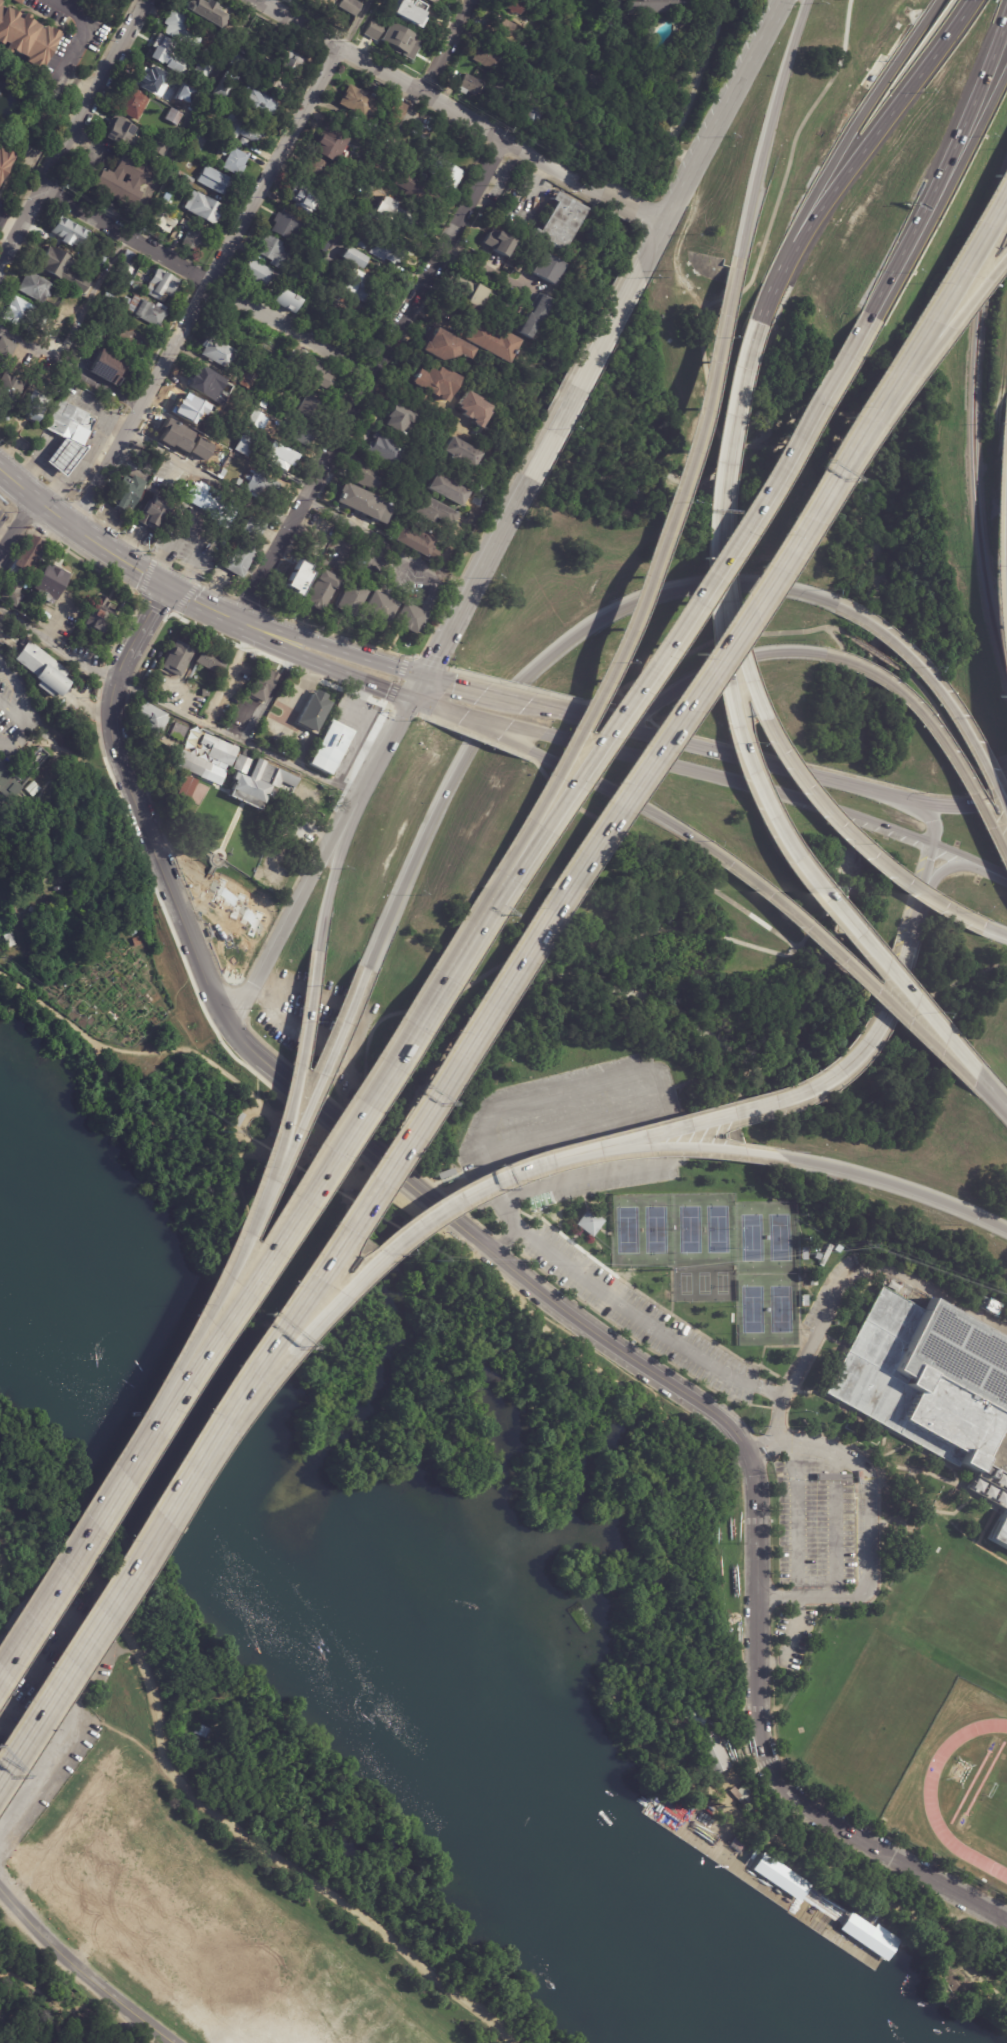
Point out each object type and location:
building: (19, 0)
building: (434, 0)
building: (0, 1)
road: (264, 1)
building: (431, 1)
building: (320, 3)
building: (512, 5)
building: (349, 6)
building: (646, 6)
building: (205, 12)
building: (405, 13)
road: (352, 22)
building: (175, 24)
building: (502, 26)
road: (79, 29)
building: (372, 29)
building: (26, 36)
building: (398, 40)
building: (193, 42)
road: (446, 45)
building: (524, 51)
building: (291, 53)
building: (171, 54)
building: (486, 59)
building: (202, 66)
building: (262, 68)
building: (146, 77)
building: (468, 86)
road: (697, 88)
building: (222, 89)
building: (374, 89)
road: (431, 95)
building: (185, 96)
building: (132, 102)
building: (355, 103)
building: (257, 104)
road: (723, 113)
building: (392, 115)
building: (172, 117)
building: (532, 117)
road: (962, 124)
road: (856, 125)
building: (121, 129)
building: (242, 129)
road: (879, 129)
road: (768, 130)
road: (71, 132)
building: (159, 145)
building: (329, 148)
building: (577, 148)
road: (966, 154)
building: (4, 158)
building: (233, 162)
building: (441, 174)
building: (320, 175)
building: (86, 177)
road: (156, 178)
building: (183, 178)
building: (213, 181)
building: (121, 184)
building: (413, 189)
building: (165, 198)
building: (298, 199)
road: (624, 203)
building: (201, 208)
road: (358, 210)
building: (394, 216)
road: (621, 216)
building: (159, 219)
building: (559, 221)
road: (654, 221)
building: (287, 226)
building: (65, 232)
road: (767, 236)
building: (191, 239)
building: (356, 240)
building: (495, 241)
building: (321, 247)
road: (651, 248)
building: (386, 249)
building: (273, 252)
building: (91, 257)
building: (351, 258)
building: (546, 268)
building: (59, 270)
building: (122, 270)
road: (487, 270)
building: (256, 273)
road: (893, 274)
road: (956, 275)
building: (293, 276)
road: (206, 280)
building: (160, 285)
road: (209, 286)
building: (356, 286)
building: (32, 288)
building: (468, 291)
road: (772, 291)
building: (498, 298)
building: (107, 301)
building: (283, 302)
road: (957, 308)
building: (141, 310)
building: (20, 312)
building: (534, 317)
road: (608, 329)
road: (589, 332)
building: (93, 334)
building: (489, 339)
building: (130, 340)
building: (107, 341)
building: (442, 347)
building: (4, 349)
building: (216, 353)
road: (72, 366)
building: (105, 368)
building: (280, 368)
building: (320, 377)
road: (370, 378)
building: (248, 381)
building: (436, 382)
building: (8, 392)
road: (421, 395)
building: (185, 405)
building: (32, 407)
building: (310, 407)
building: (474, 408)
building: (255, 420)
building: (396, 420)
building: (70, 421)
road: (727, 431)
road: (552, 433)
building: (297, 435)
building: (225, 440)
building: (182, 441)
road: (769, 441)
railway: (974, 449)
road: (161, 450)
building: (386, 450)
building: (460, 450)
building: (63, 455)
building: (280, 459)
road: (520, 463)
building: (366, 475)
building: (260, 487)
building: (447, 488)
road: (1005, 492)
building: (125, 494)
building: (198, 495)
building: (363, 503)
building: (433, 509)
building: (151, 514)
road: (507, 519)
road: (18, 523)
road: (364, 528)
building: (248, 529)
road: (81, 530)
road: (867, 539)
building: (419, 543)
building: (32, 558)
building: (239, 559)
road: (146, 575)
building: (294, 579)
road: (459, 581)
building: (53, 582)
road: (643, 583)
traffic signals: (169, 585)
road: (1003, 585)
road: (216, 588)
building: (321, 589)
road: (676, 590)
building: (18, 594)
road: (187, 595)
building: (351, 598)
road: (153, 602)
road: (201, 602)
road: (248, 602)
road: (690, 604)
building: (379, 607)
building: (102, 615)
building: (409, 615)
road: (455, 618)
road: (142, 633)
road: (335, 635)
road: (719, 642)
road: (329, 645)
road: (58, 646)
road: (875, 653)
road: (902, 653)
building: (252, 655)
road: (763, 655)
building: (175, 658)
building: (209, 659)
road: (278, 659)
road: (429, 662)
road: (319, 665)
building: (44, 672)
road: (229, 673)
traffic signals: (424, 677)
road: (437, 680)
road: (880, 680)
road: (398, 681)
building: (261, 683)
road: (512, 684)
parking lot: (83, 687)
road: (303, 687)
road: (850, 687)
road: (468, 688)
road: (417, 689)
building: (204, 692)
road: (491, 693)
road: (626, 695)
road: (17, 696)
road: (266, 698)
road: (598, 698)
road: (664, 699)
road: (755, 700)
traffic signals: (411, 701)
road: (529, 703)
road: (612, 703)
road: (421, 704)
road: (89, 706)
building: (311, 710)
road: (403, 710)
road: (640, 710)
road: (98, 712)
road: (444, 712)
parking lot: (14, 715)
building: (148, 717)
road: (593, 719)
road: (502, 725)
road: (28, 730)
building: (176, 731)
road: (496, 735)
road: (474, 737)
road: (957, 740)
road: (238, 741)
building: (328, 746)
road: (384, 749)
road: (614, 750)
building: (223, 752)
road: (71, 753)
road: (533, 759)
building: (199, 767)
road: (826, 769)
road: (982, 772)
building: (174, 774)
road: (815, 774)
building: (27, 779)
building: (259, 779)
building: (184, 787)
road: (609, 787)
road: (969, 796)
road: (152, 798)
road: (807, 801)
road: (140, 808)
road: (438, 811)
road: (931, 822)
road: (778, 841)
road: (312, 851)
road: (142, 852)
road: (958, 856)
road: (211, 857)
road: (585, 857)
road: (214, 865)
road: (672, 865)
road: (926, 867)
road: (950, 868)
road: (996, 872)
road: (335, 875)
road: (206, 882)
park: (213, 884)
road: (906, 888)
road: (227, 894)
road: (200, 898)
road: (829, 906)
road: (294, 911)
road: (916, 920)
building: (132, 931)
road: (993, 933)
building: (136, 941)
road: (828, 952)
road: (516, 959)
road: (831, 964)
park: (113, 969)
road: (209, 979)
road: (919, 999)
road: (236, 1002)
parking lot: (324, 1027)
road: (163, 1052)
road: (658, 1082)
road: (293, 1086)
road: (317, 1087)
road: (262, 1091)
road: (302, 1093)
road: (312, 1094)
road: (991, 1094)
road: (792, 1100)
road: (303, 1113)
building: (239, 1119)
road: (180, 1138)
road: (338, 1143)
road: (699, 1149)
road: (400, 1155)
building: (445, 1172)
road: (494, 1178)
road: (905, 1191)
road: (451, 1199)
road: (342, 1219)
parking lot: (517, 1222)
building: (589, 1223)
park: (715, 1227)
road: (422, 1228)
road: (503, 1228)
park: (653, 1228)
park: (687, 1228)
park: (624, 1229)
park: (749, 1236)
park: (777, 1236)
road: (506, 1239)
road: (538, 1242)
building: (838, 1249)
building: (804, 1254)
building: (826, 1256)
building: (818, 1257)
road: (515, 1269)
road: (318, 1277)
park: (719, 1281)
building: (813, 1281)
park: (683, 1282)
park: (701, 1282)
building: (805, 1302)
road: (832, 1304)
road: (214, 1307)
park: (749, 1308)
park: (778, 1308)
road: (202, 1346)
road: (764, 1356)
road: (818, 1357)
road: (779, 1383)
building: (933, 1388)
road: (772, 1406)
road: (668, 1413)
road: (240, 1414)
road: (775, 1429)
road: (711, 1432)
road: (897, 1434)
road: (568, 1440)
road: (881, 1440)
road: (917, 1445)
park: (561, 1498)
road: (925, 1509)
road: (833, 1524)
parking lot: (817, 1534)
road: (87, 1537)
road: (868, 1538)
road: (797, 1565)
road: (659, 1590)
road: (35, 1596)
park: (968, 1609)
road: (102, 1627)
river: (418, 1692)
road: (757, 1694)
parking lot: (49, 1701)
building: (202, 1729)
road: (129, 1737)
building: (196, 1744)
building: (713, 1753)
building: (958, 1772)
building: (747, 1794)
track: (927, 1801)
park: (991, 1813)
park: (188, 1815)
road: (245, 1832)
pier: (731, 1852)
parking lot: (208, 1927)
road: (79, 1956)
road: (80, 1972)
road: (946, 1995)
road: (44, 2003)
road: (56, 2030)

